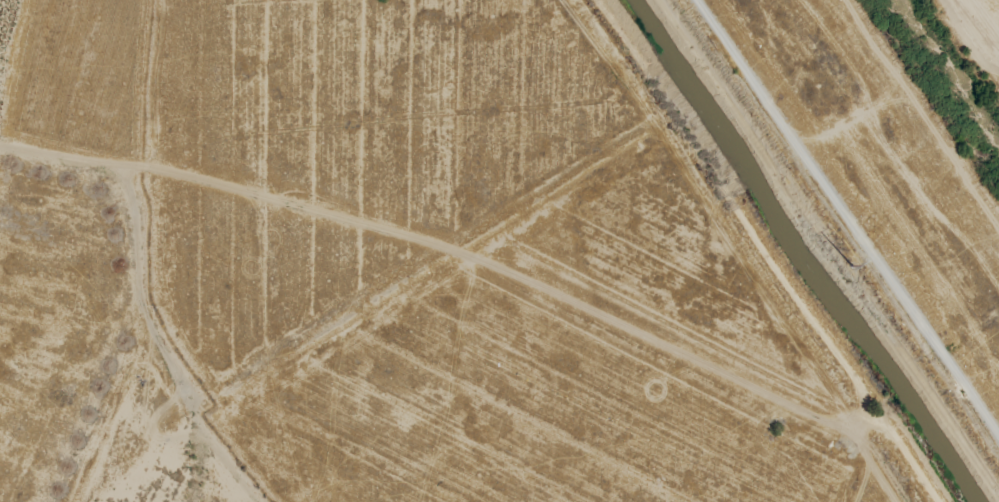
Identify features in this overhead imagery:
river: (949, 72)
road: (786, 134)
road: (65, 160)
road: (764, 249)
power tower: (852, 263)
road: (148, 296)
road: (938, 354)
road: (227, 454)

